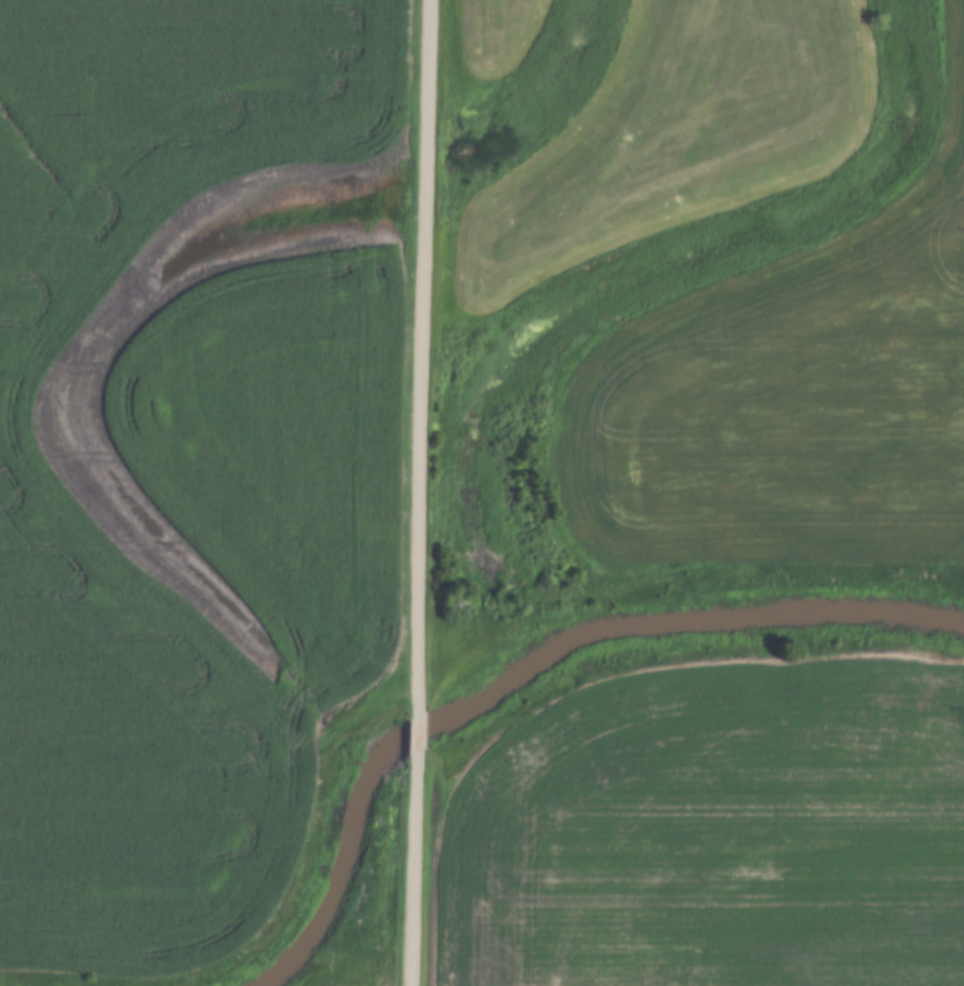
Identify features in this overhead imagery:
road: (420, 355)
crop: (785, 400)
crop: (284, 445)
crop: (45, 498)
road: (415, 732)
crop: (713, 835)
road: (411, 869)
crop: (370, 985)

